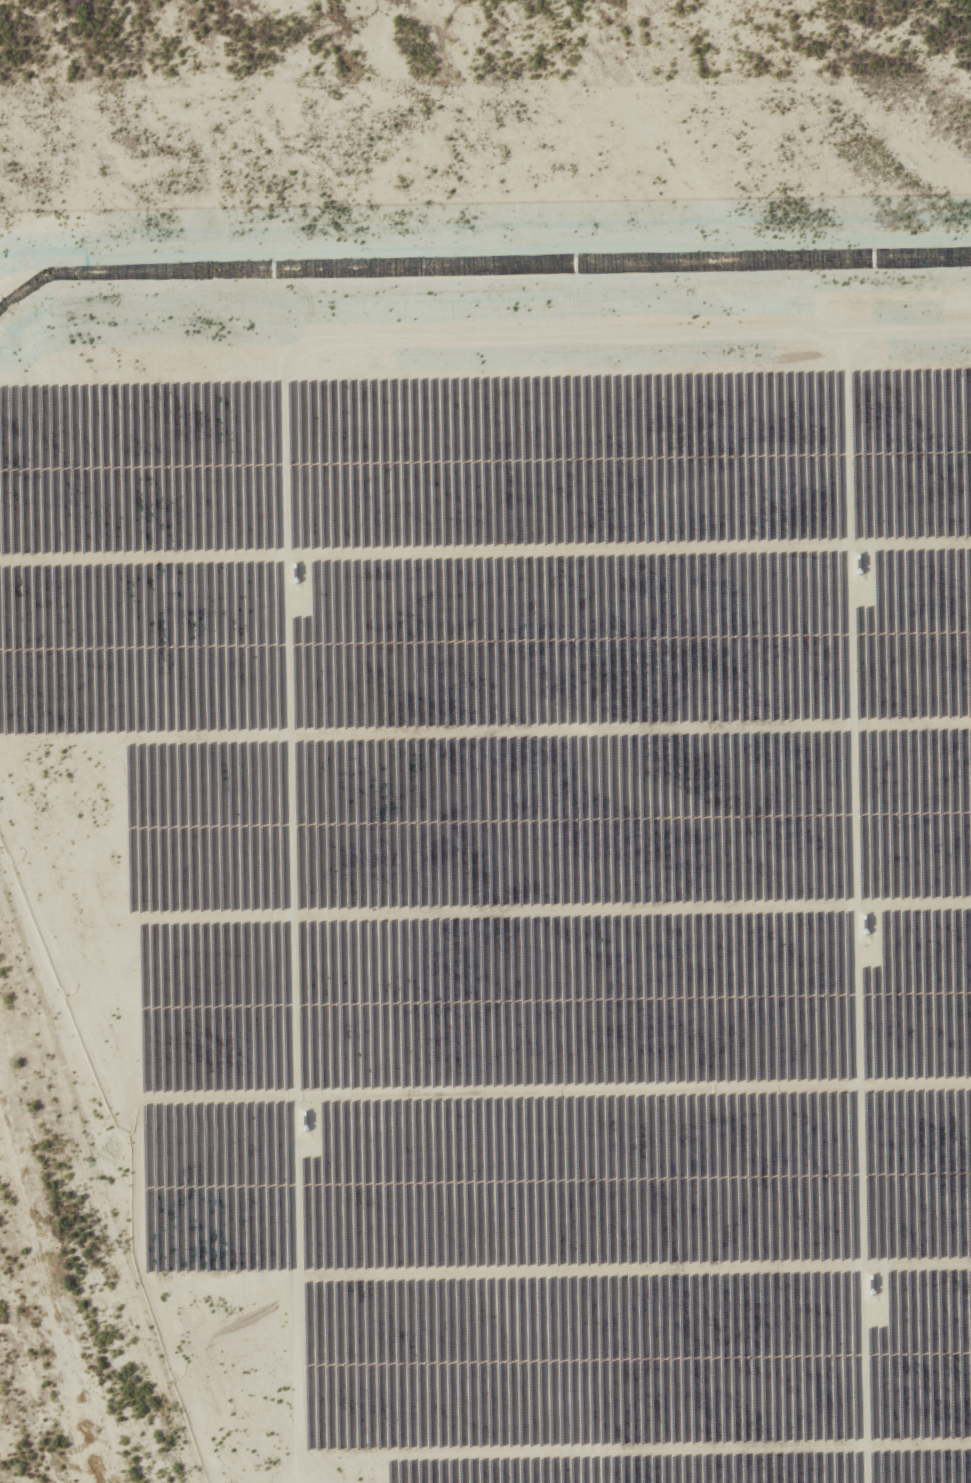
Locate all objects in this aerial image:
road: (767, 298)

